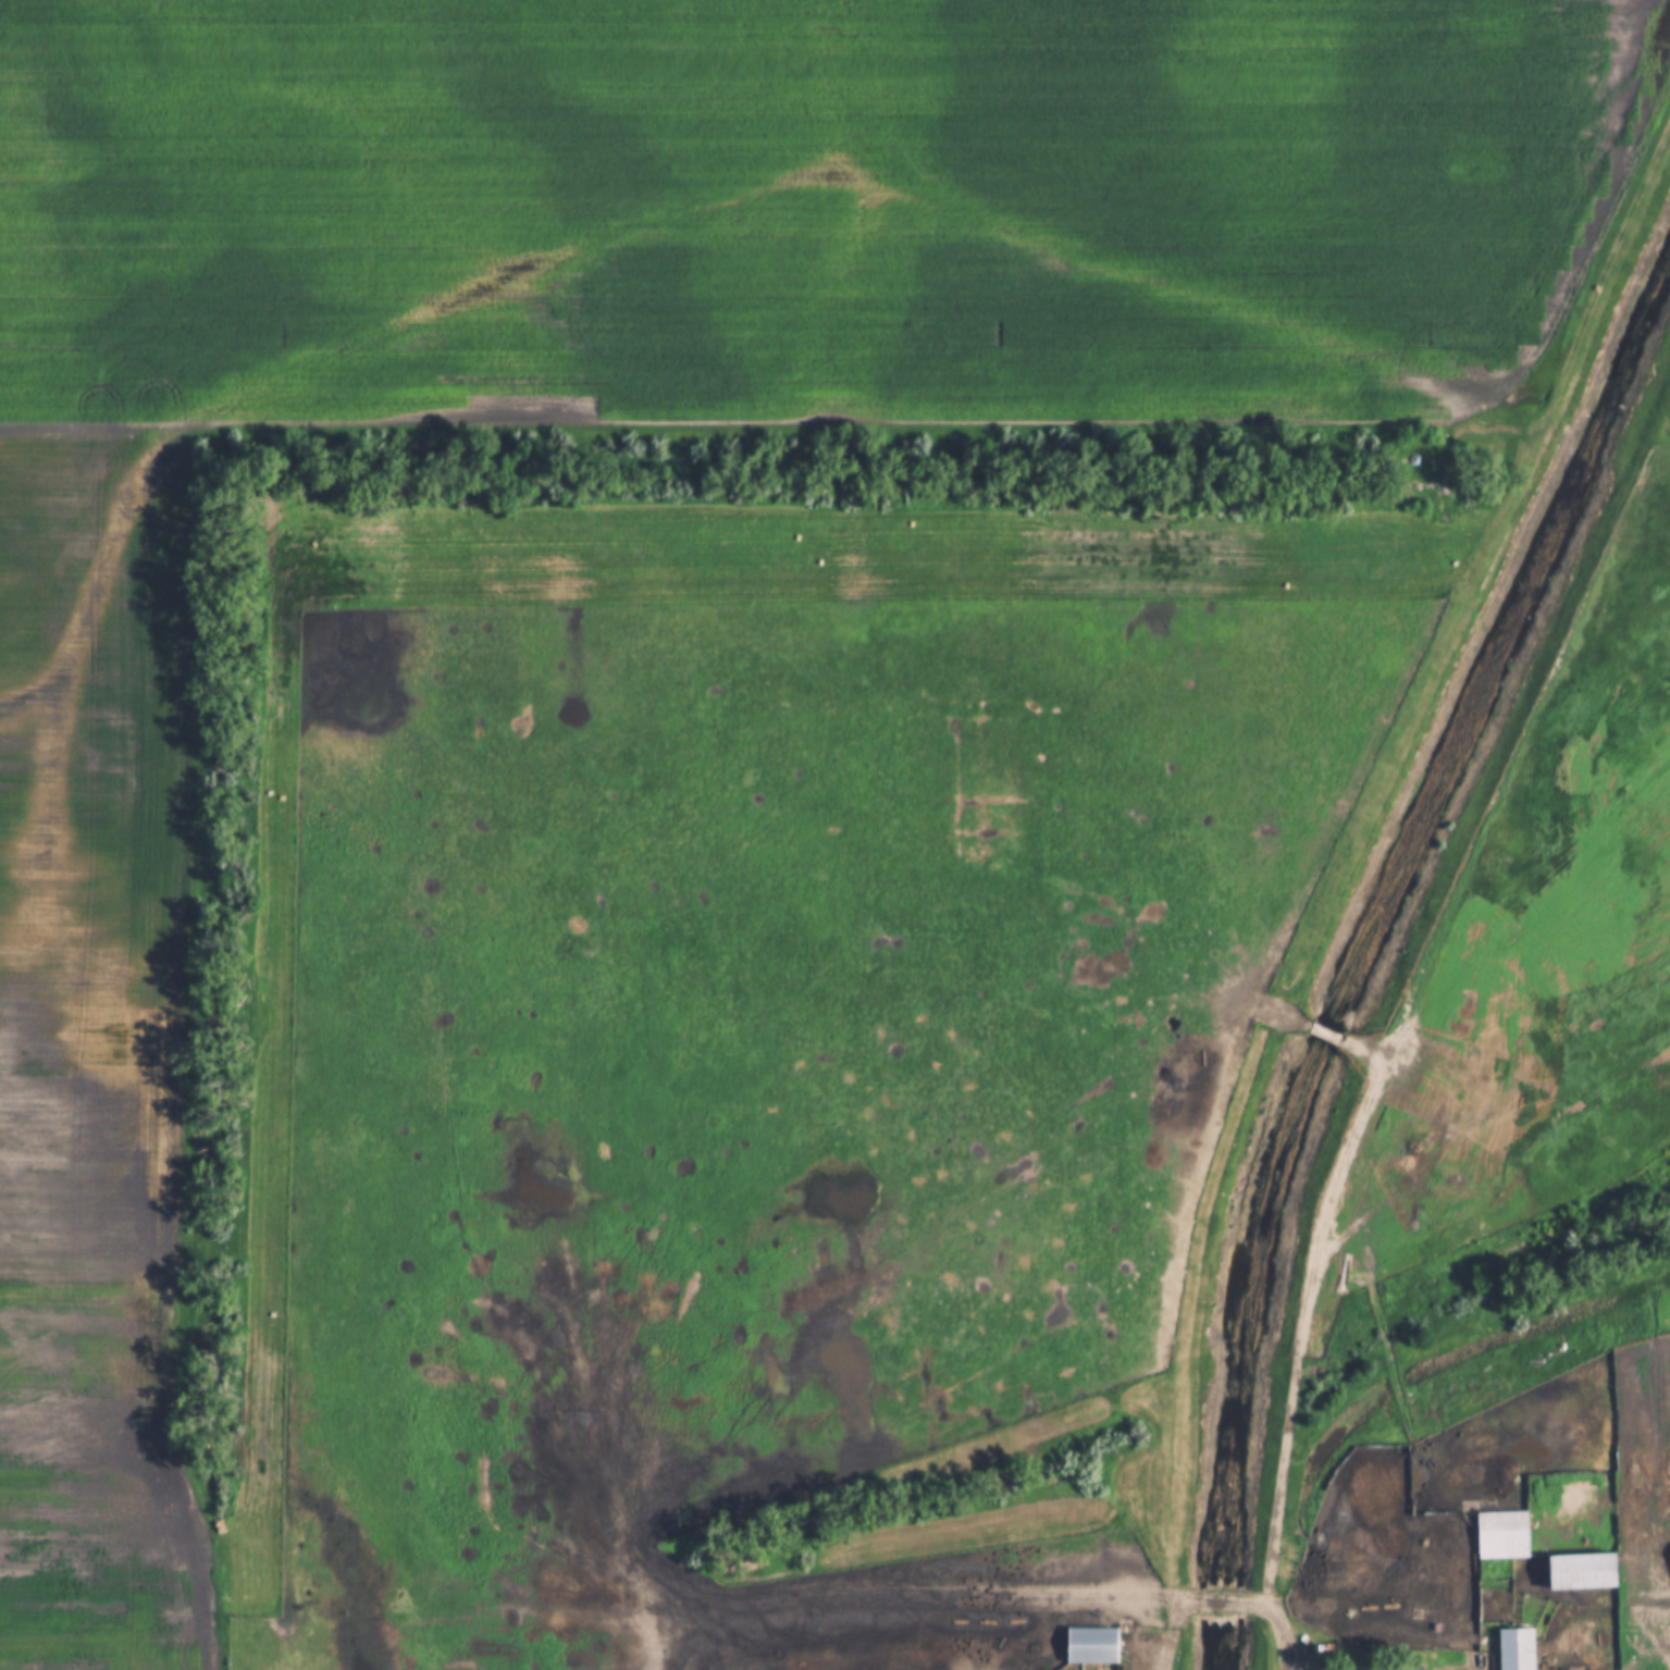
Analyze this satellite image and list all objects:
crop: (660, 327)
crop: (747, 1019)
crop: (99, 1489)
building: (1502, 1535)
building: (1582, 1571)
building: (1091, 1640)
building: (1517, 1649)

